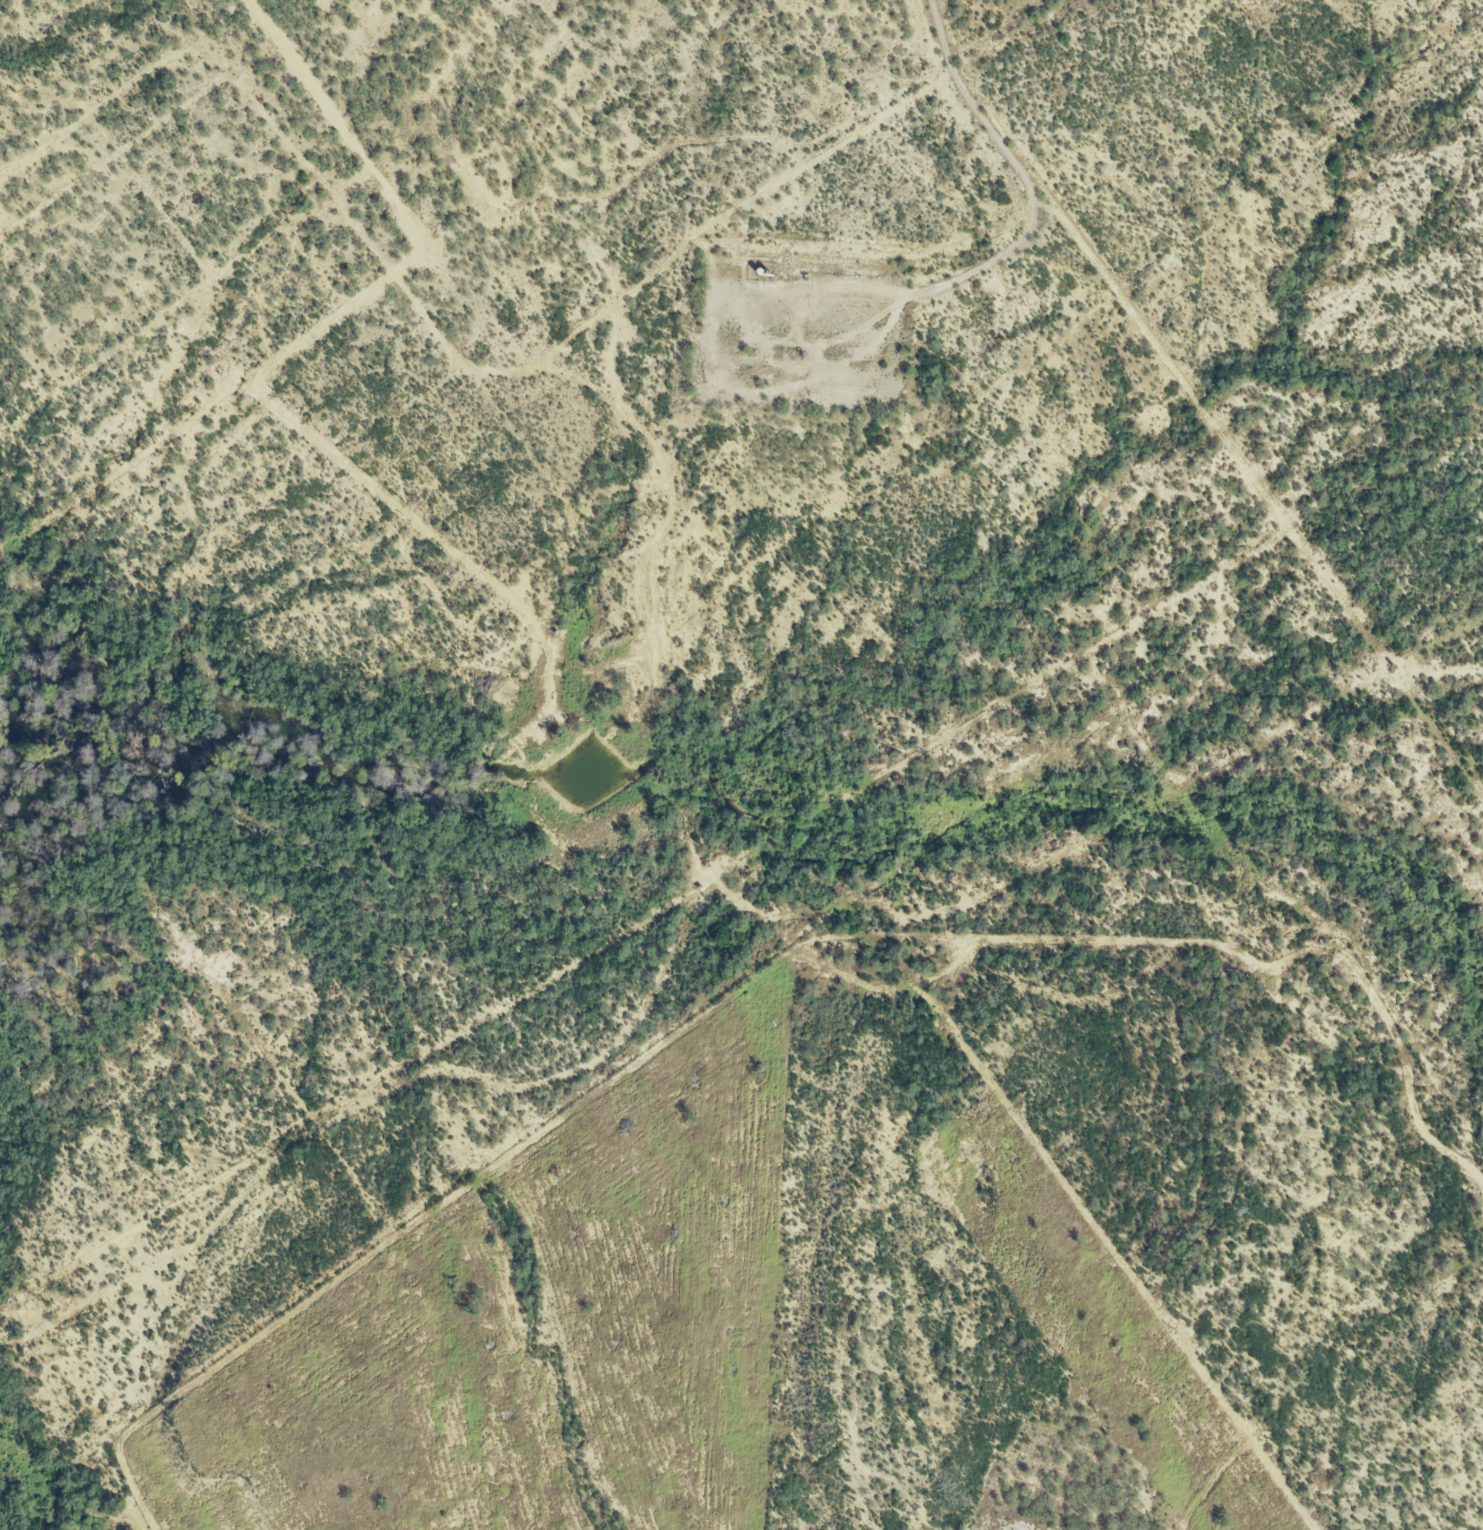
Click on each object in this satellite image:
road: (643, 791)

